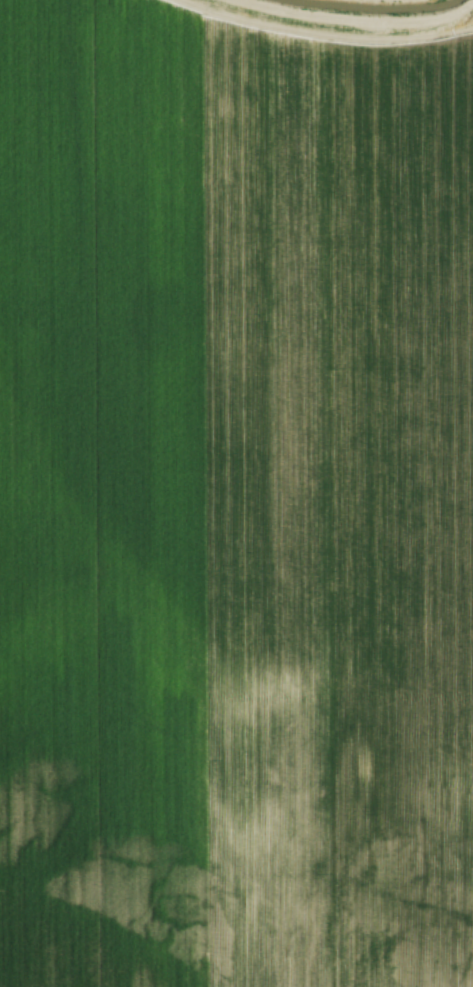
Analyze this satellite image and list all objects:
road: (362, 15)

